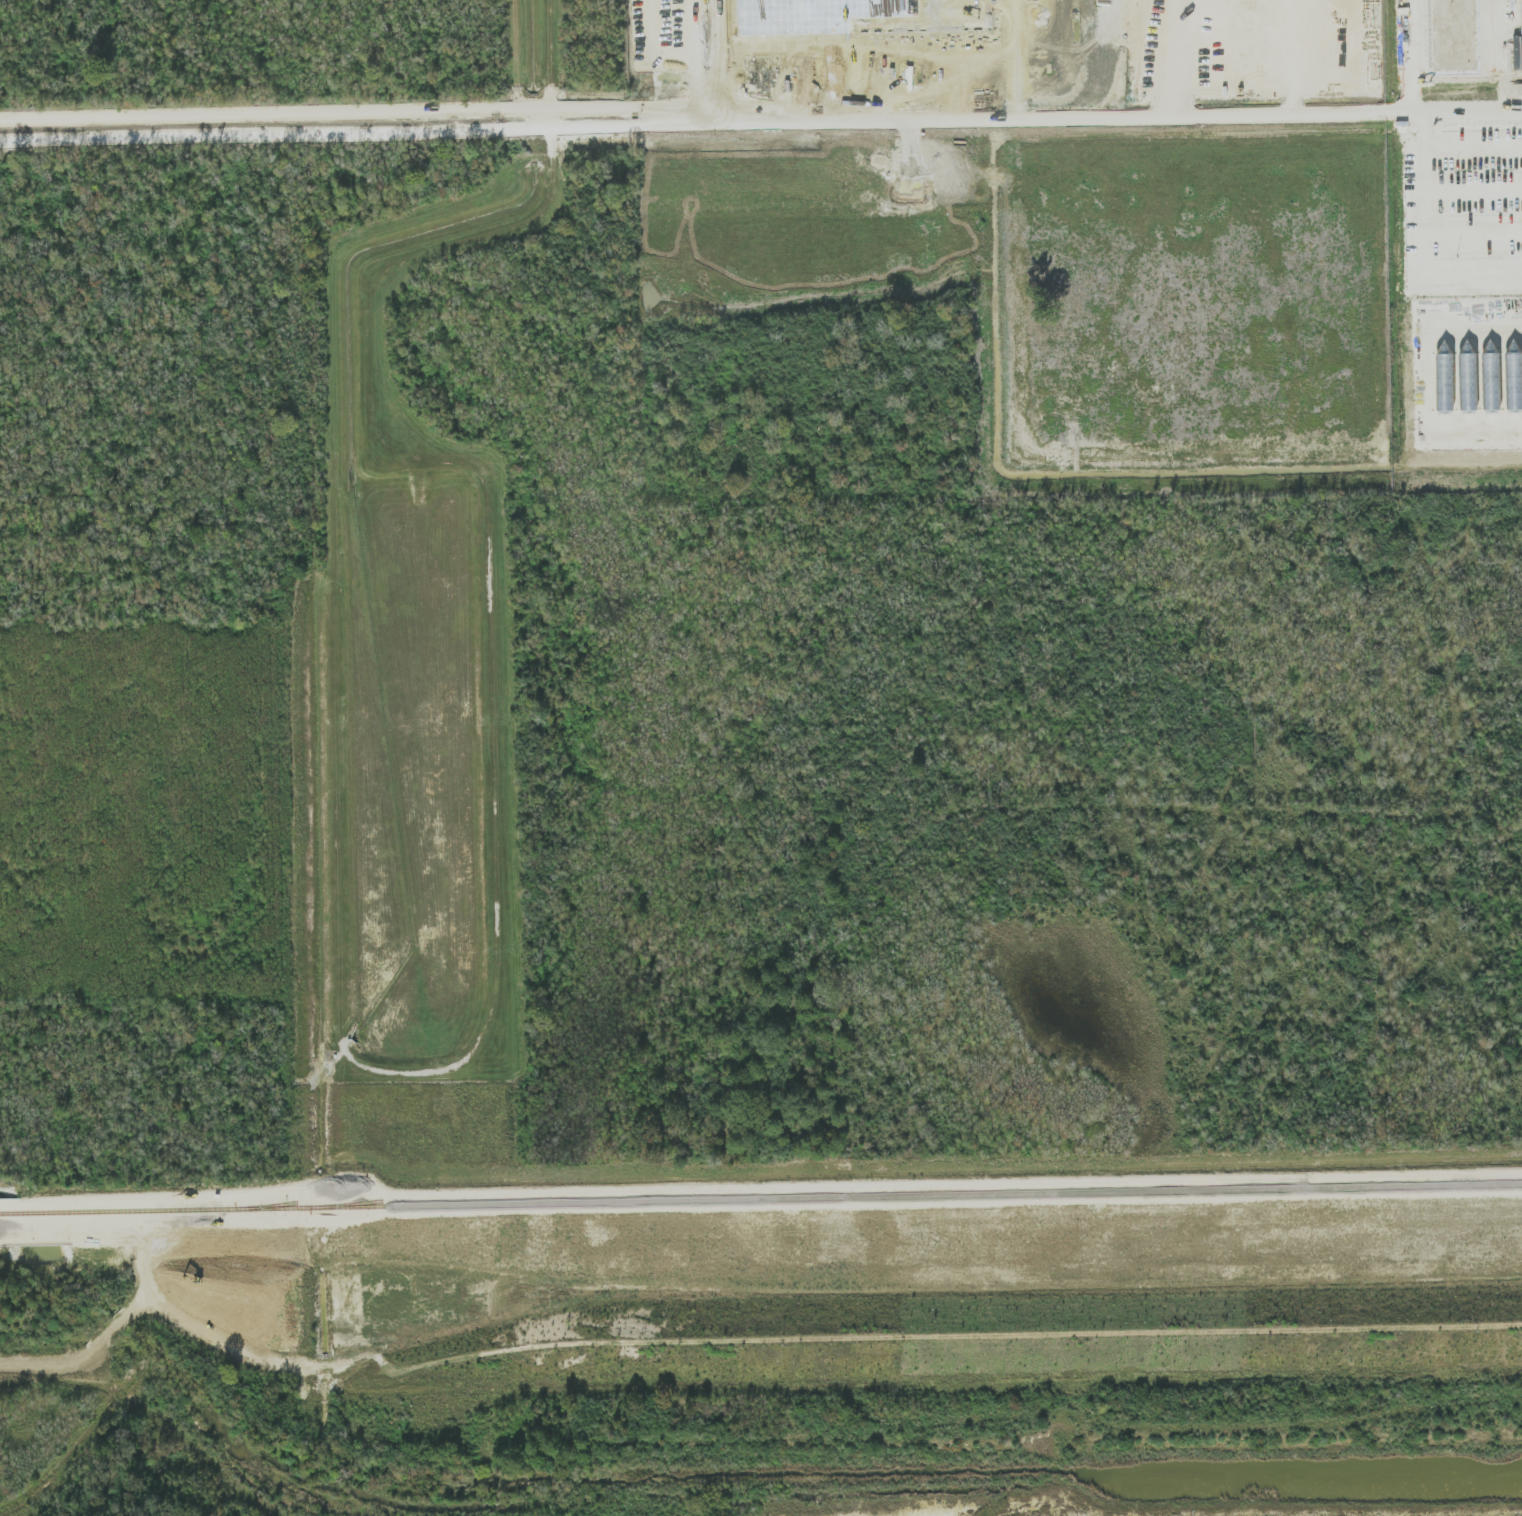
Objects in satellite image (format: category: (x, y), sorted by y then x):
building: (1521, 13)
road: (1515, 112)
road: (1155, 119)
road: (727, 122)
railway: (761, 1198)
river: (711, 1475)

